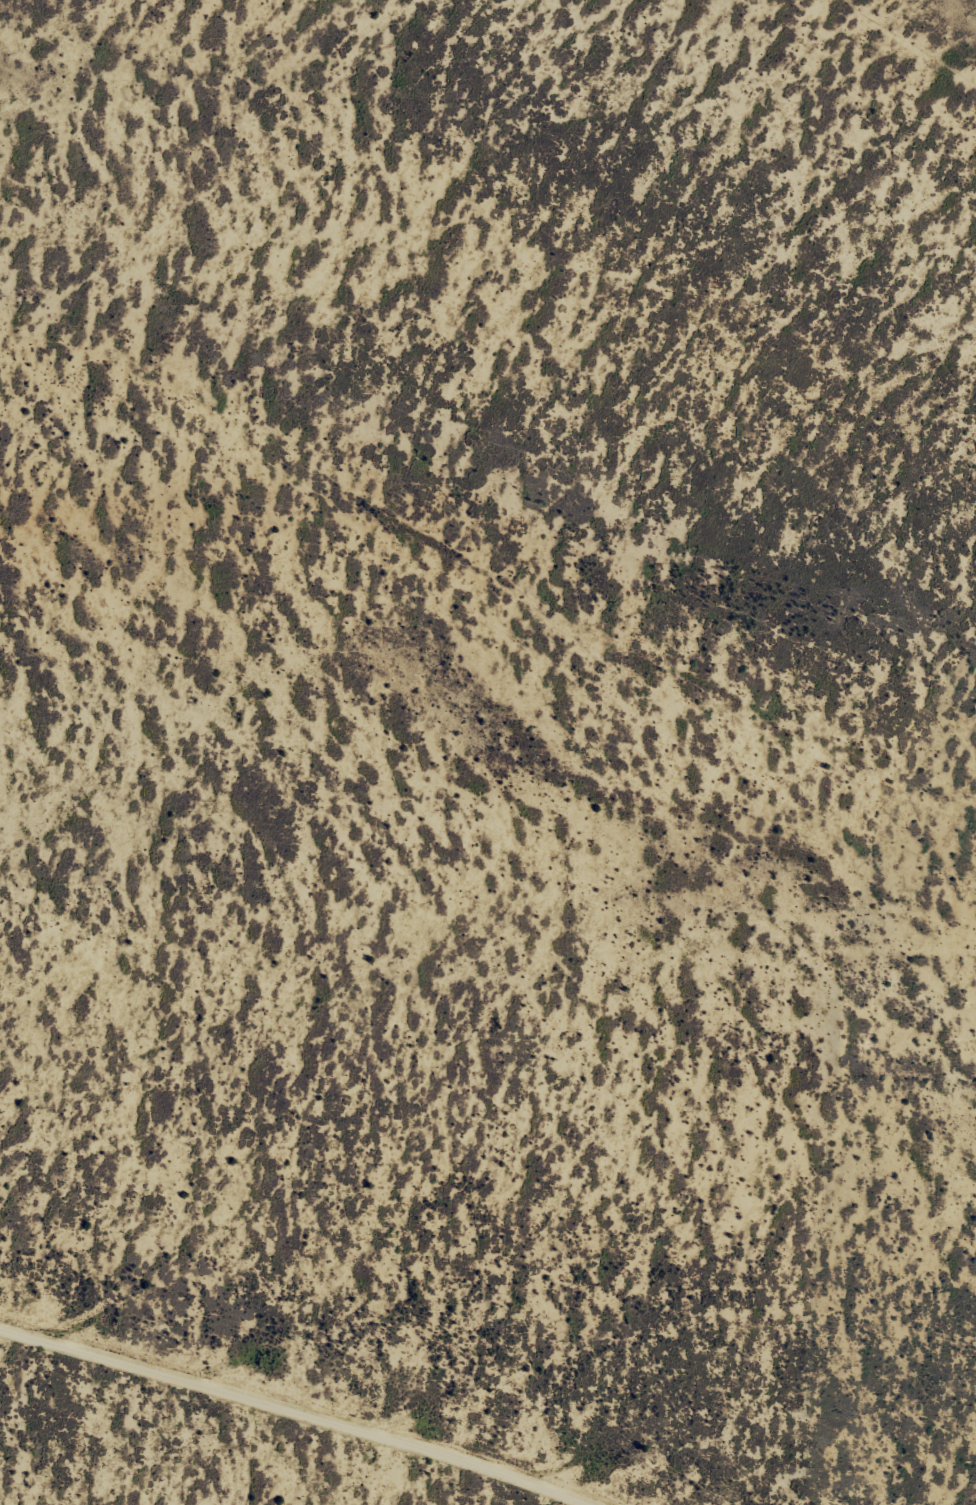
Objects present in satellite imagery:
road: (272, 1415)

